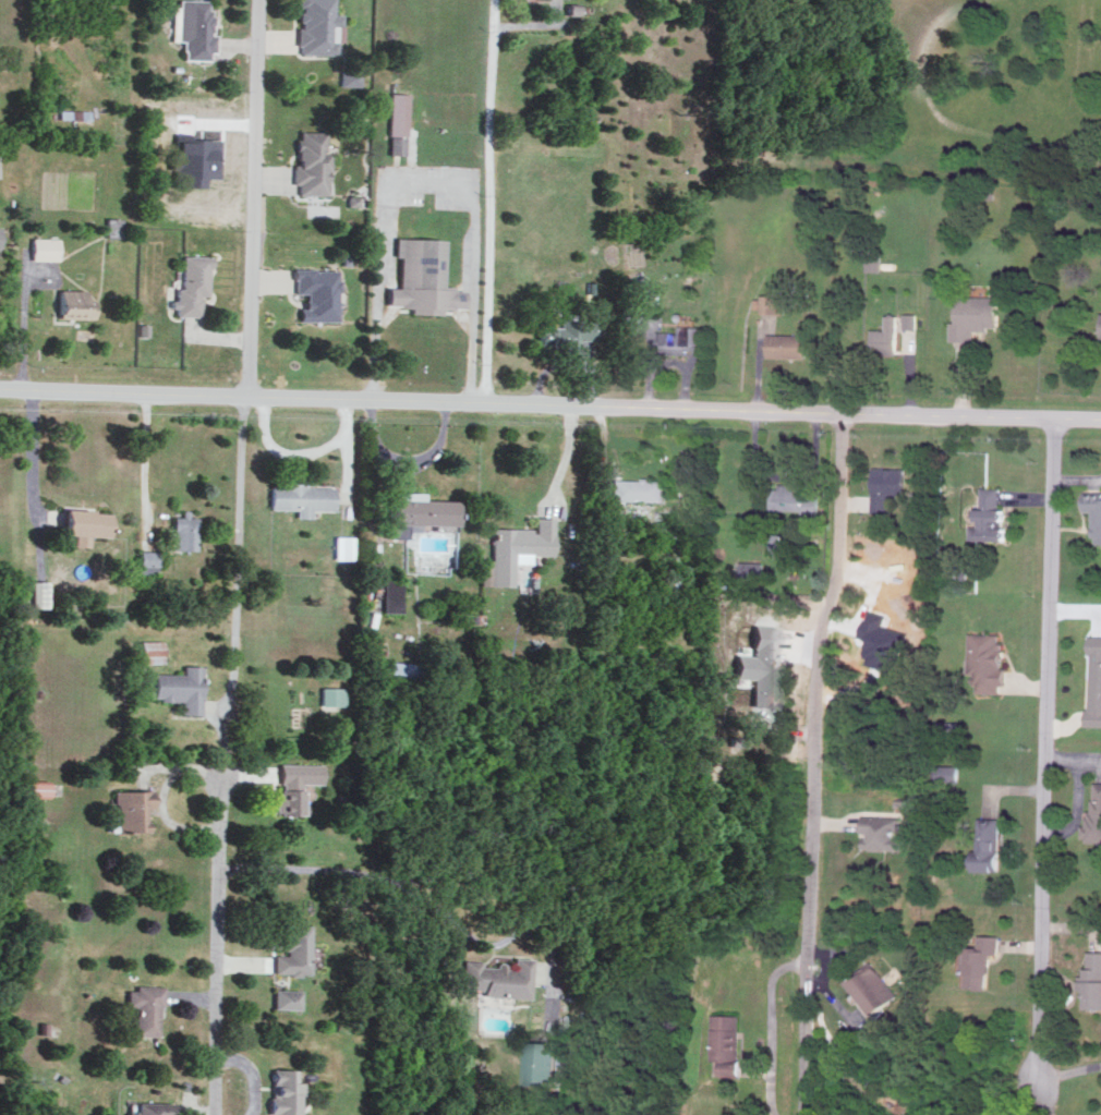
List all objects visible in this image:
building: (318, 26)
building: (196, 29)
building: (350, 76)
building: (397, 122)
building: (196, 160)
building: (312, 162)
road: (428, 181)
road: (254, 198)
road: (488, 201)
building: (113, 226)
building: (0, 235)
building: (46, 247)
building: (873, 262)
building: (423, 276)
building: (193, 283)
building: (318, 292)
building: (75, 303)
building: (770, 303)
building: (975, 315)
building: (910, 319)
building: (567, 334)
building: (887, 336)
building: (681, 338)
building: (788, 344)
road: (550, 403)
road: (31, 453)
road: (567, 459)
road: (1077, 478)
building: (888, 486)
building: (638, 488)
building: (303, 497)
building: (793, 498)
building: (419, 511)
building: (1096, 514)
building: (992, 516)
building: (811, 520)
building: (86, 523)
building: (185, 531)
building: (776, 543)
building: (343, 546)
building: (519, 547)
building: (148, 560)
building: (753, 570)
building: (485, 571)
building: (38, 593)
building: (391, 594)
building: (885, 641)
building: (152, 651)
building: (989, 663)
building: (760, 665)
building: (399, 670)
building: (1096, 681)
building: (180, 688)
building: (331, 694)
road: (225, 754)
road: (814, 762)
building: (949, 772)
road: (1048, 776)
building: (294, 784)
building: (130, 809)
building: (1096, 811)
building: (882, 832)
building: (990, 844)
road: (453, 923)
building: (294, 950)
building: (982, 961)
building: (498, 978)
building: (1092, 980)
building: (874, 987)
building: (287, 998)
building: (144, 1007)
building: (728, 1042)
building: (542, 1063)
building: (282, 1090)
building: (152, 1107)

